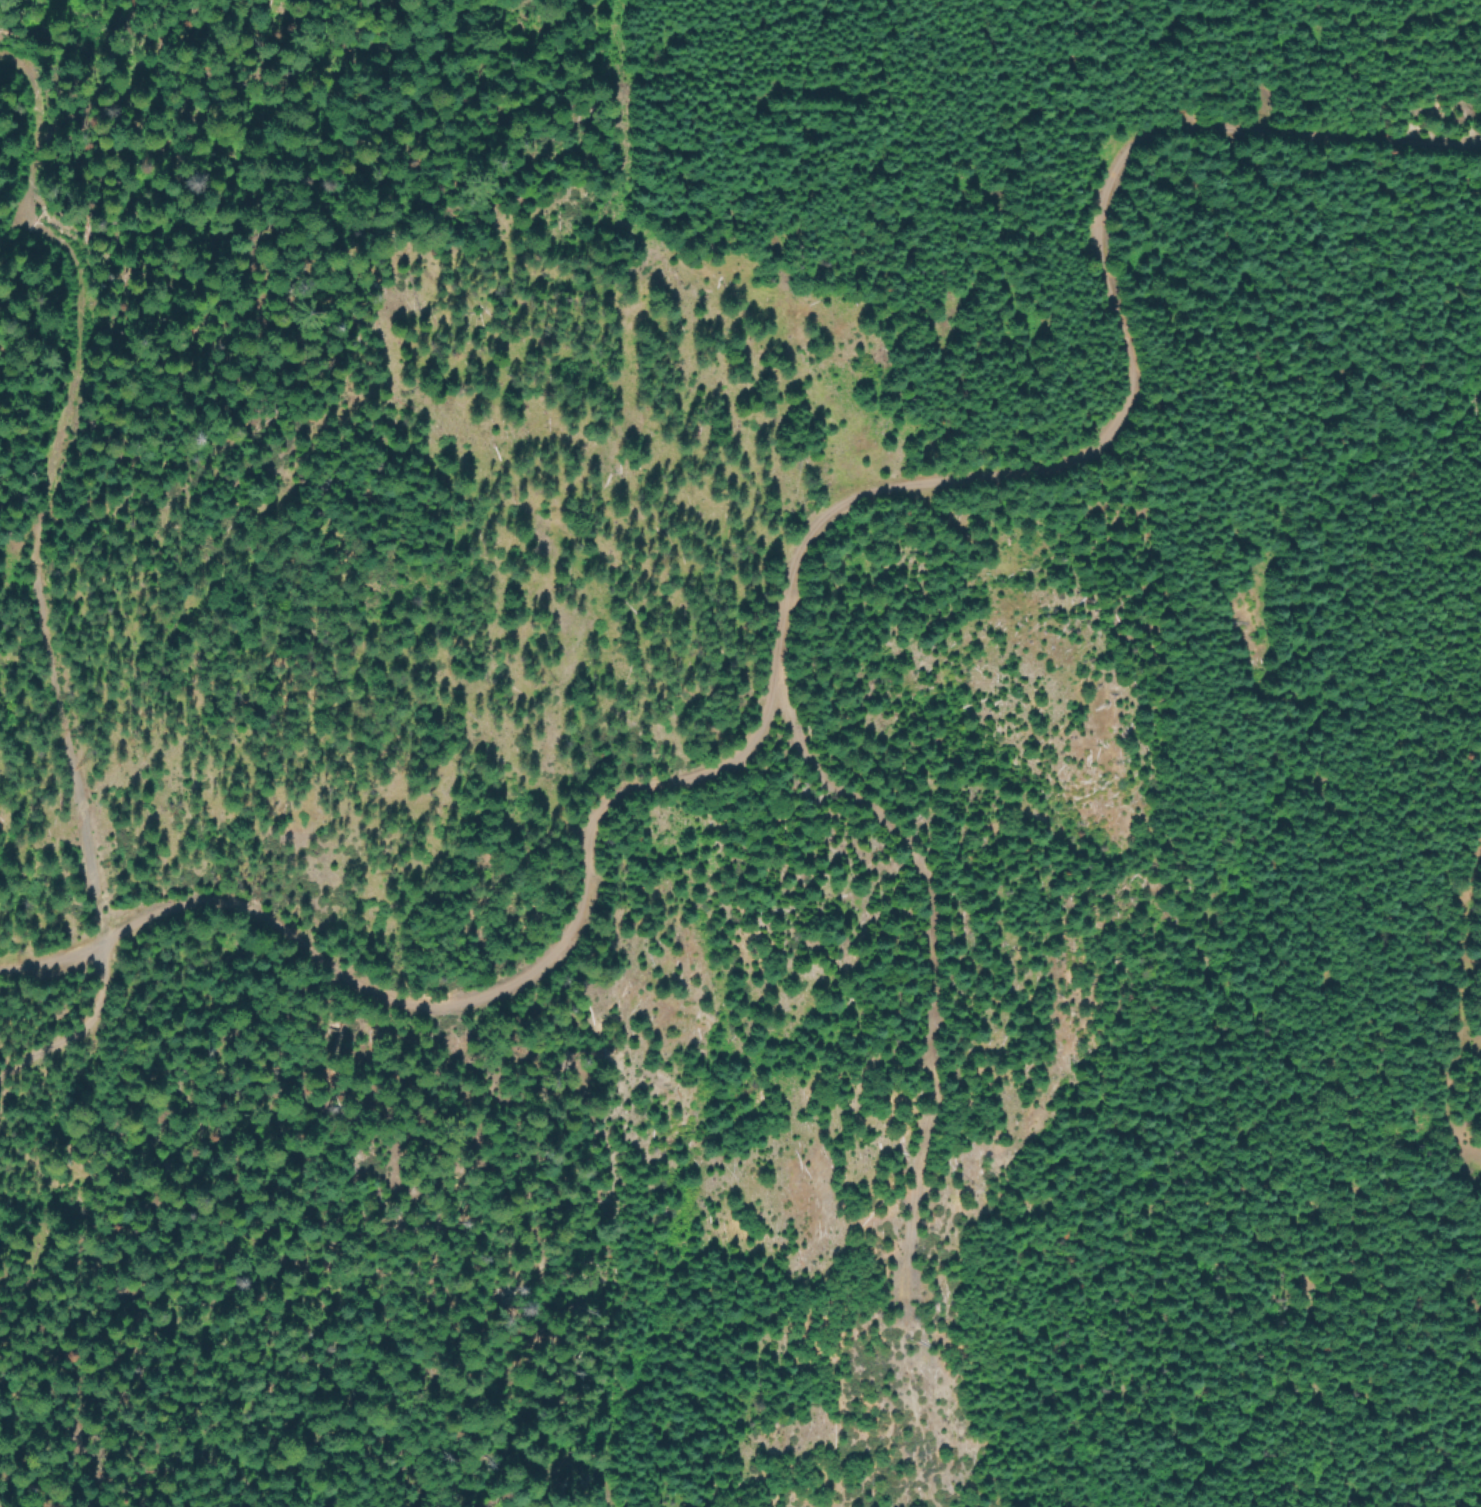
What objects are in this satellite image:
road: (44, 499)
road: (782, 604)
road: (78, 1030)

